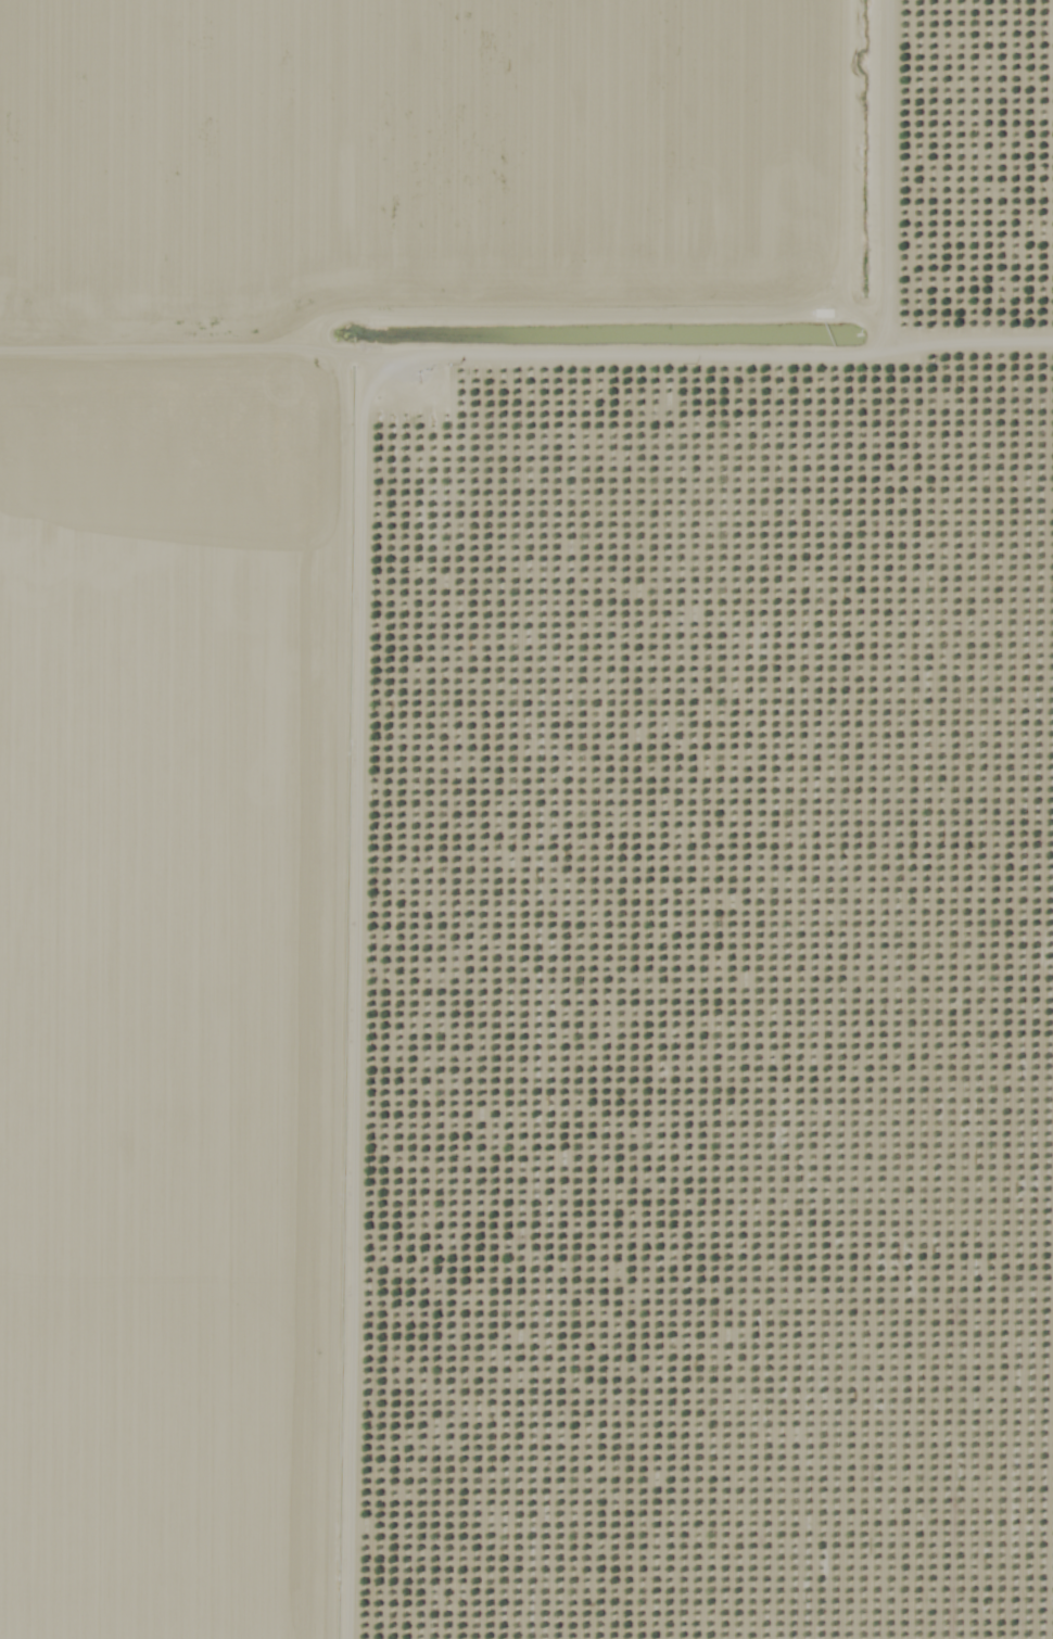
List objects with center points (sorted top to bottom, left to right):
crop: (454, 186)
crop: (976, 188)
road: (399, 569)
crop: (188, 998)
crop: (714, 1009)

